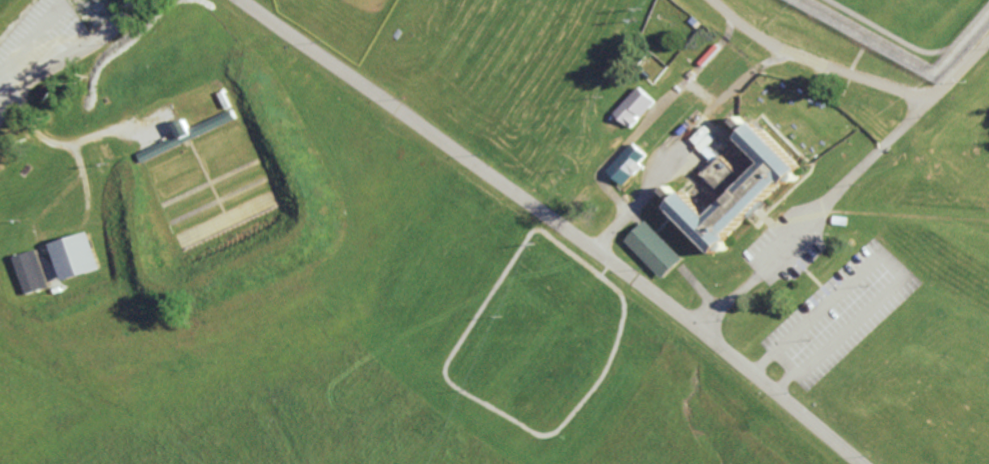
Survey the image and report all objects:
road: (815, 60)
building: (50, 91)
building: (633, 106)
building: (189, 135)
building: (28, 171)
road: (843, 185)
building: (734, 186)
road: (631, 207)
building: (839, 219)
road: (556, 226)
building: (655, 249)
building: (76, 257)
building: (30, 273)
parking lot: (839, 313)
road: (788, 354)

